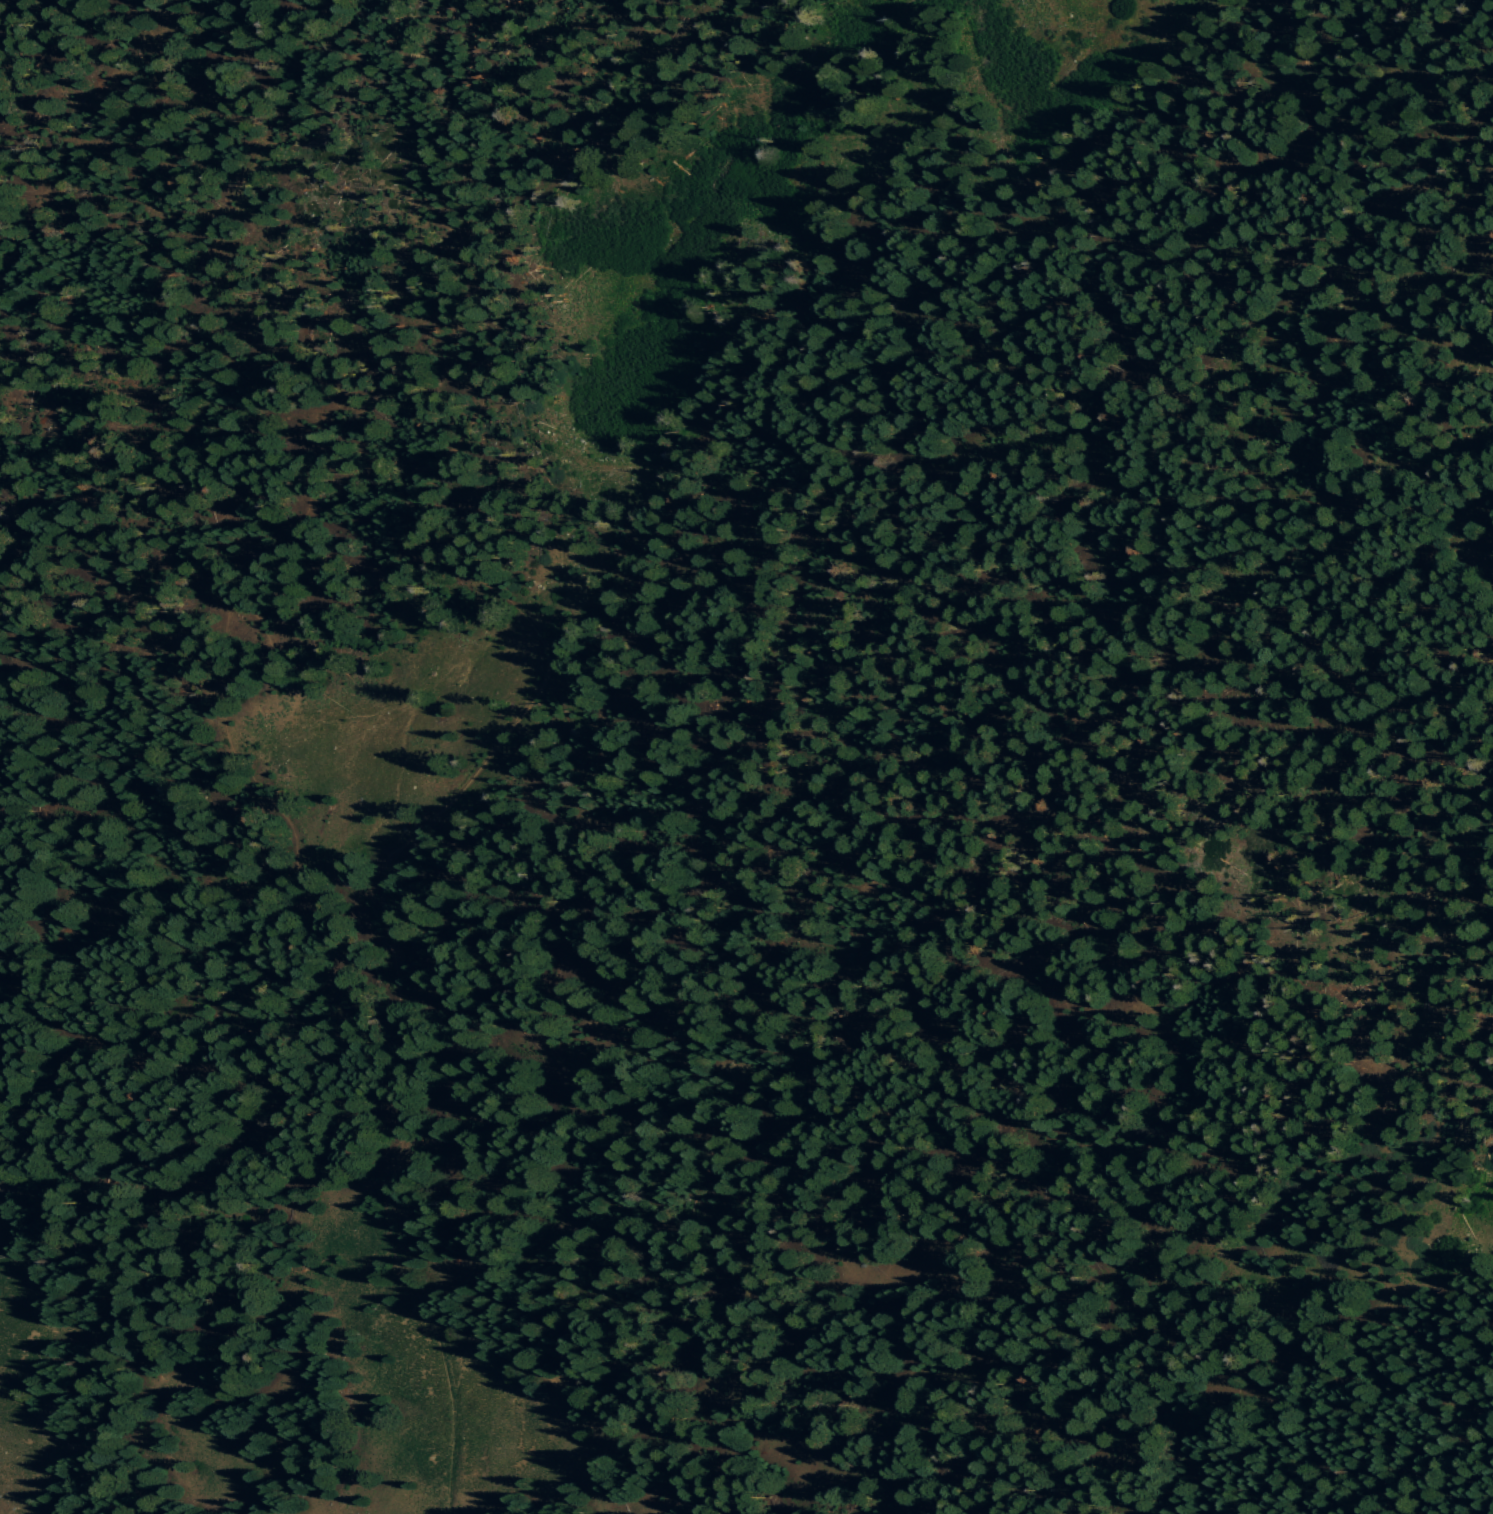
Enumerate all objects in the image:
road: (310, 26)
road: (369, 530)
road: (287, 639)
road: (437, 810)
road: (385, 1174)
road: (527, 1368)

